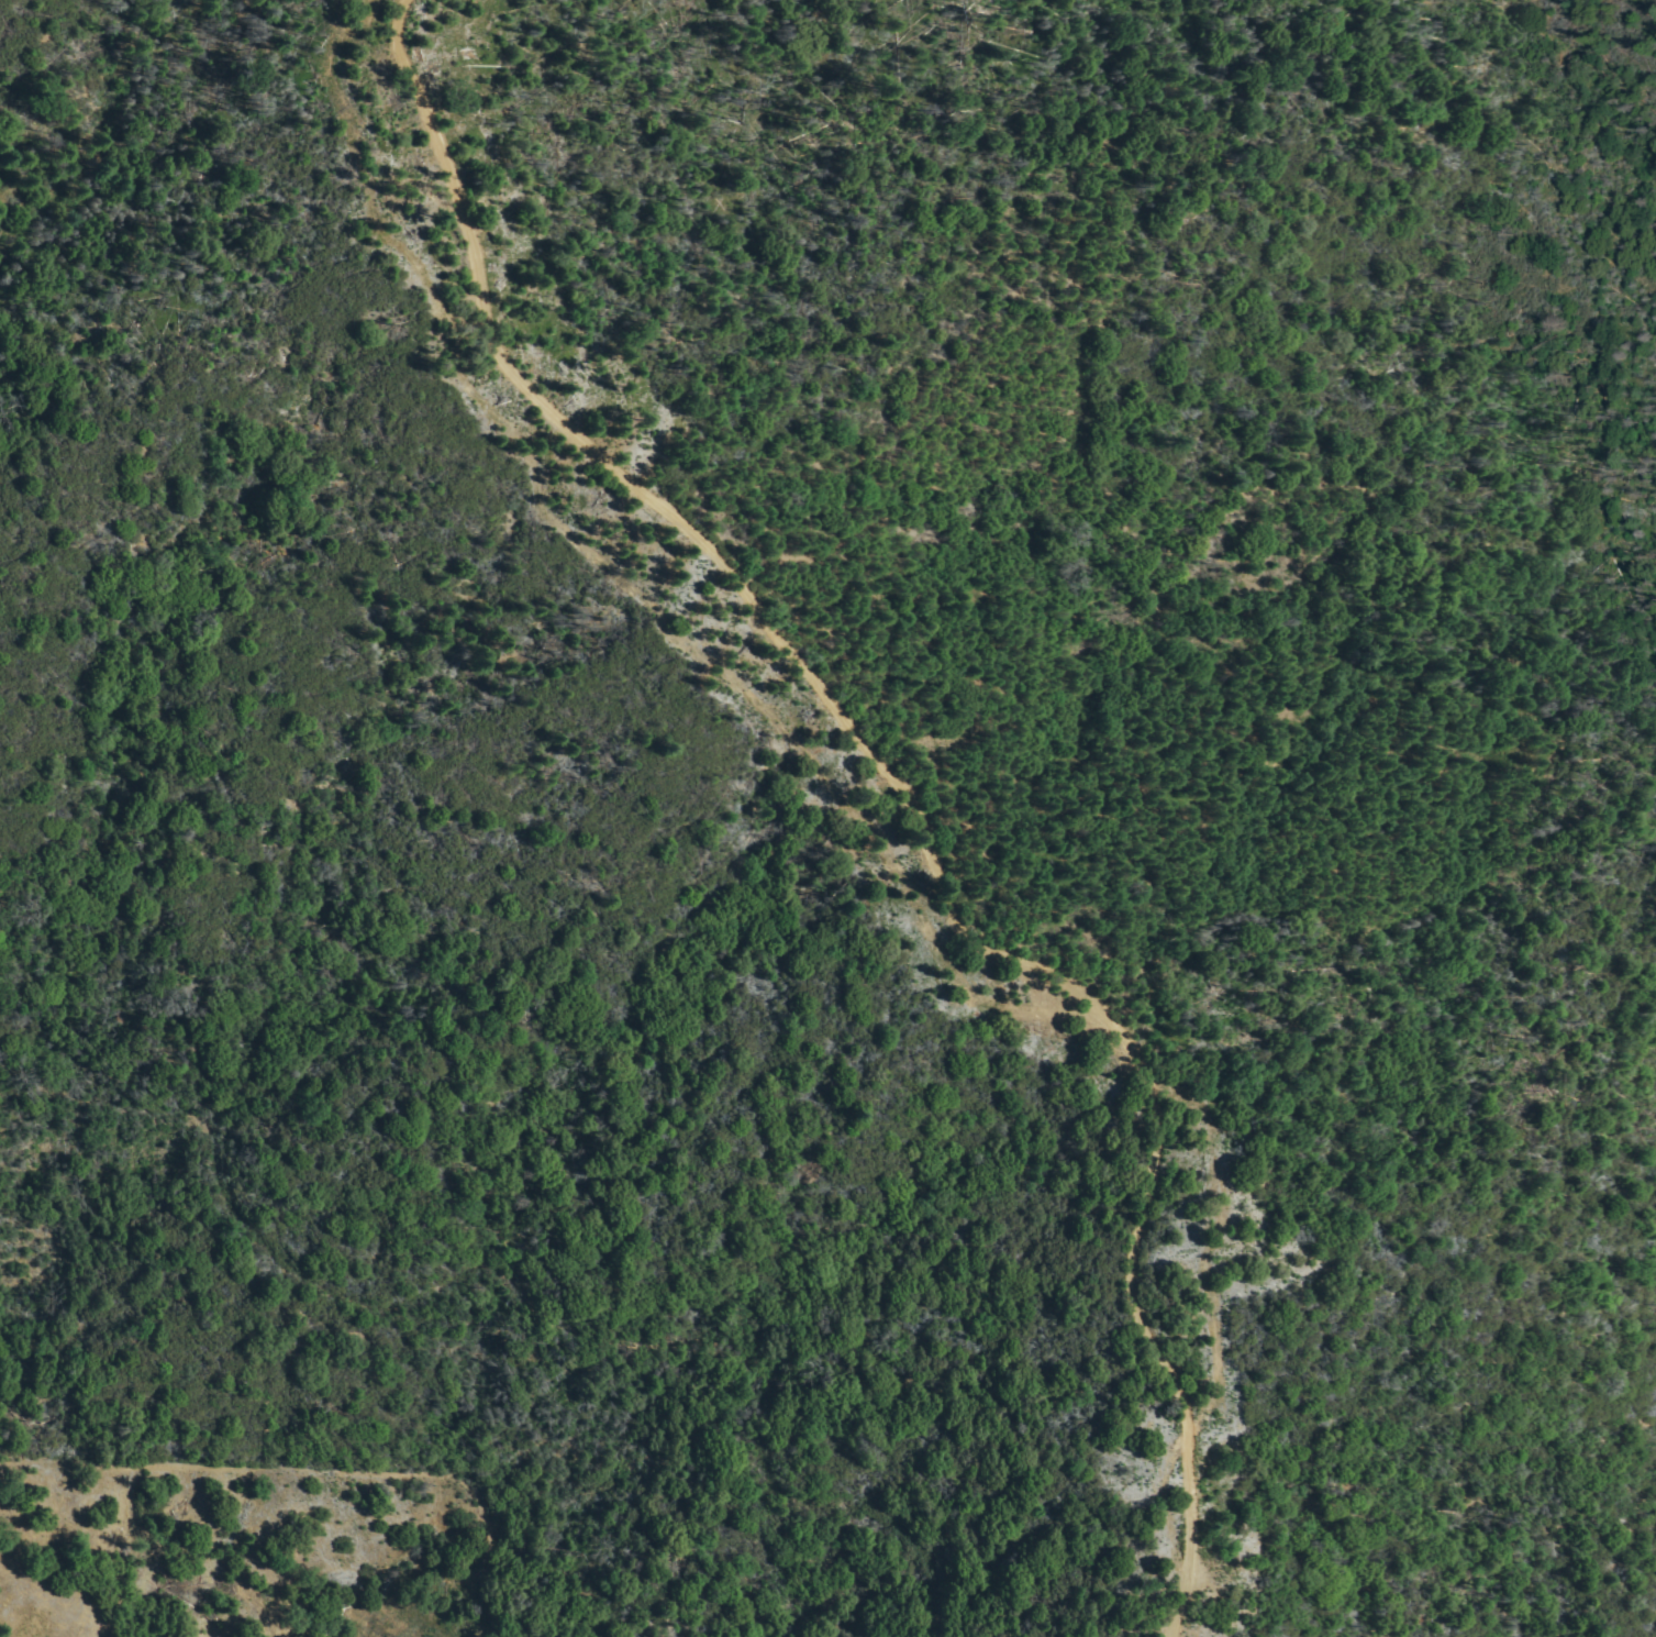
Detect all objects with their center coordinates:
road: (908, 800)
road: (530, 1292)

